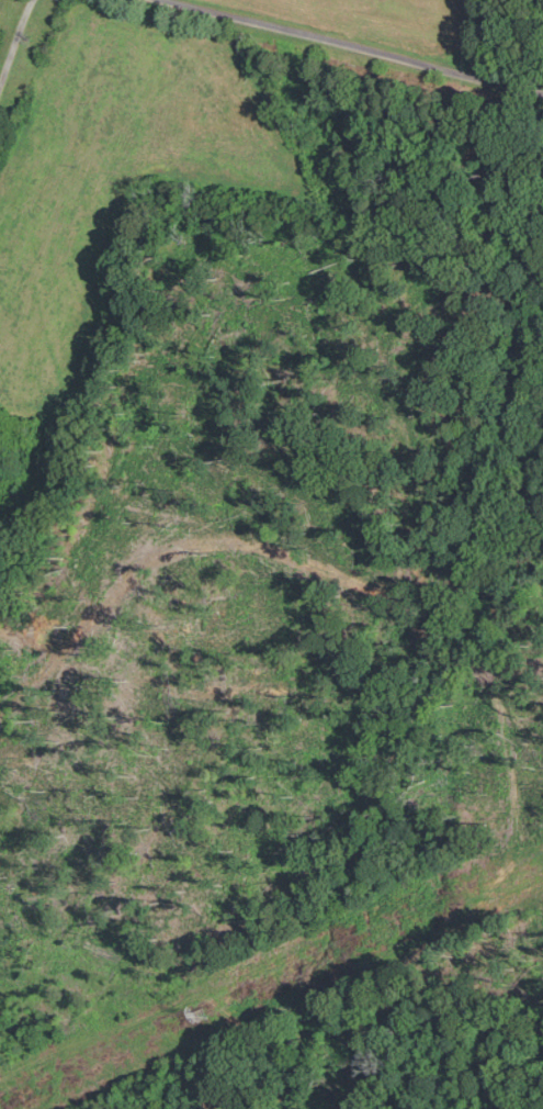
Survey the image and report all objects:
road: (15, 42)
road: (351, 46)
power tower: (201, 1015)

